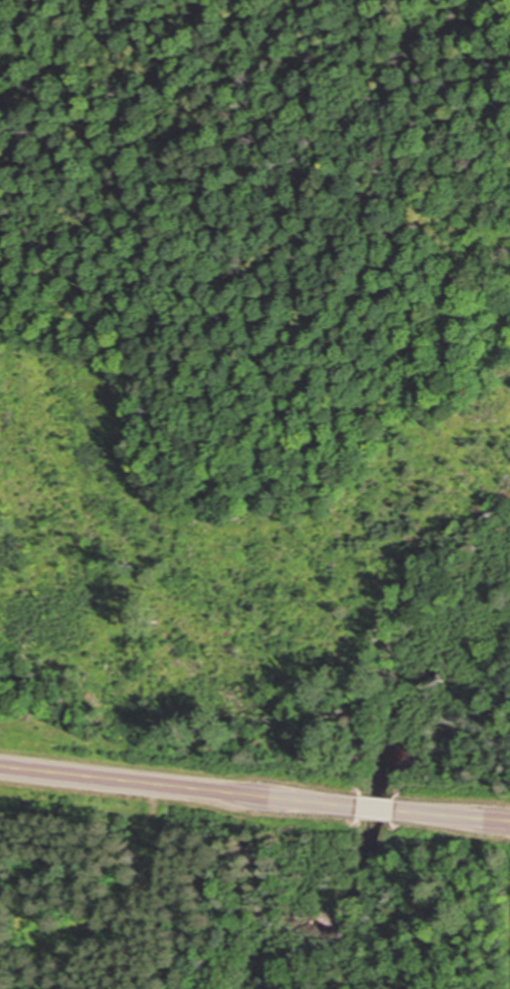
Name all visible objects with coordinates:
road: (179, 785)
road: (376, 808)
road: (452, 815)

